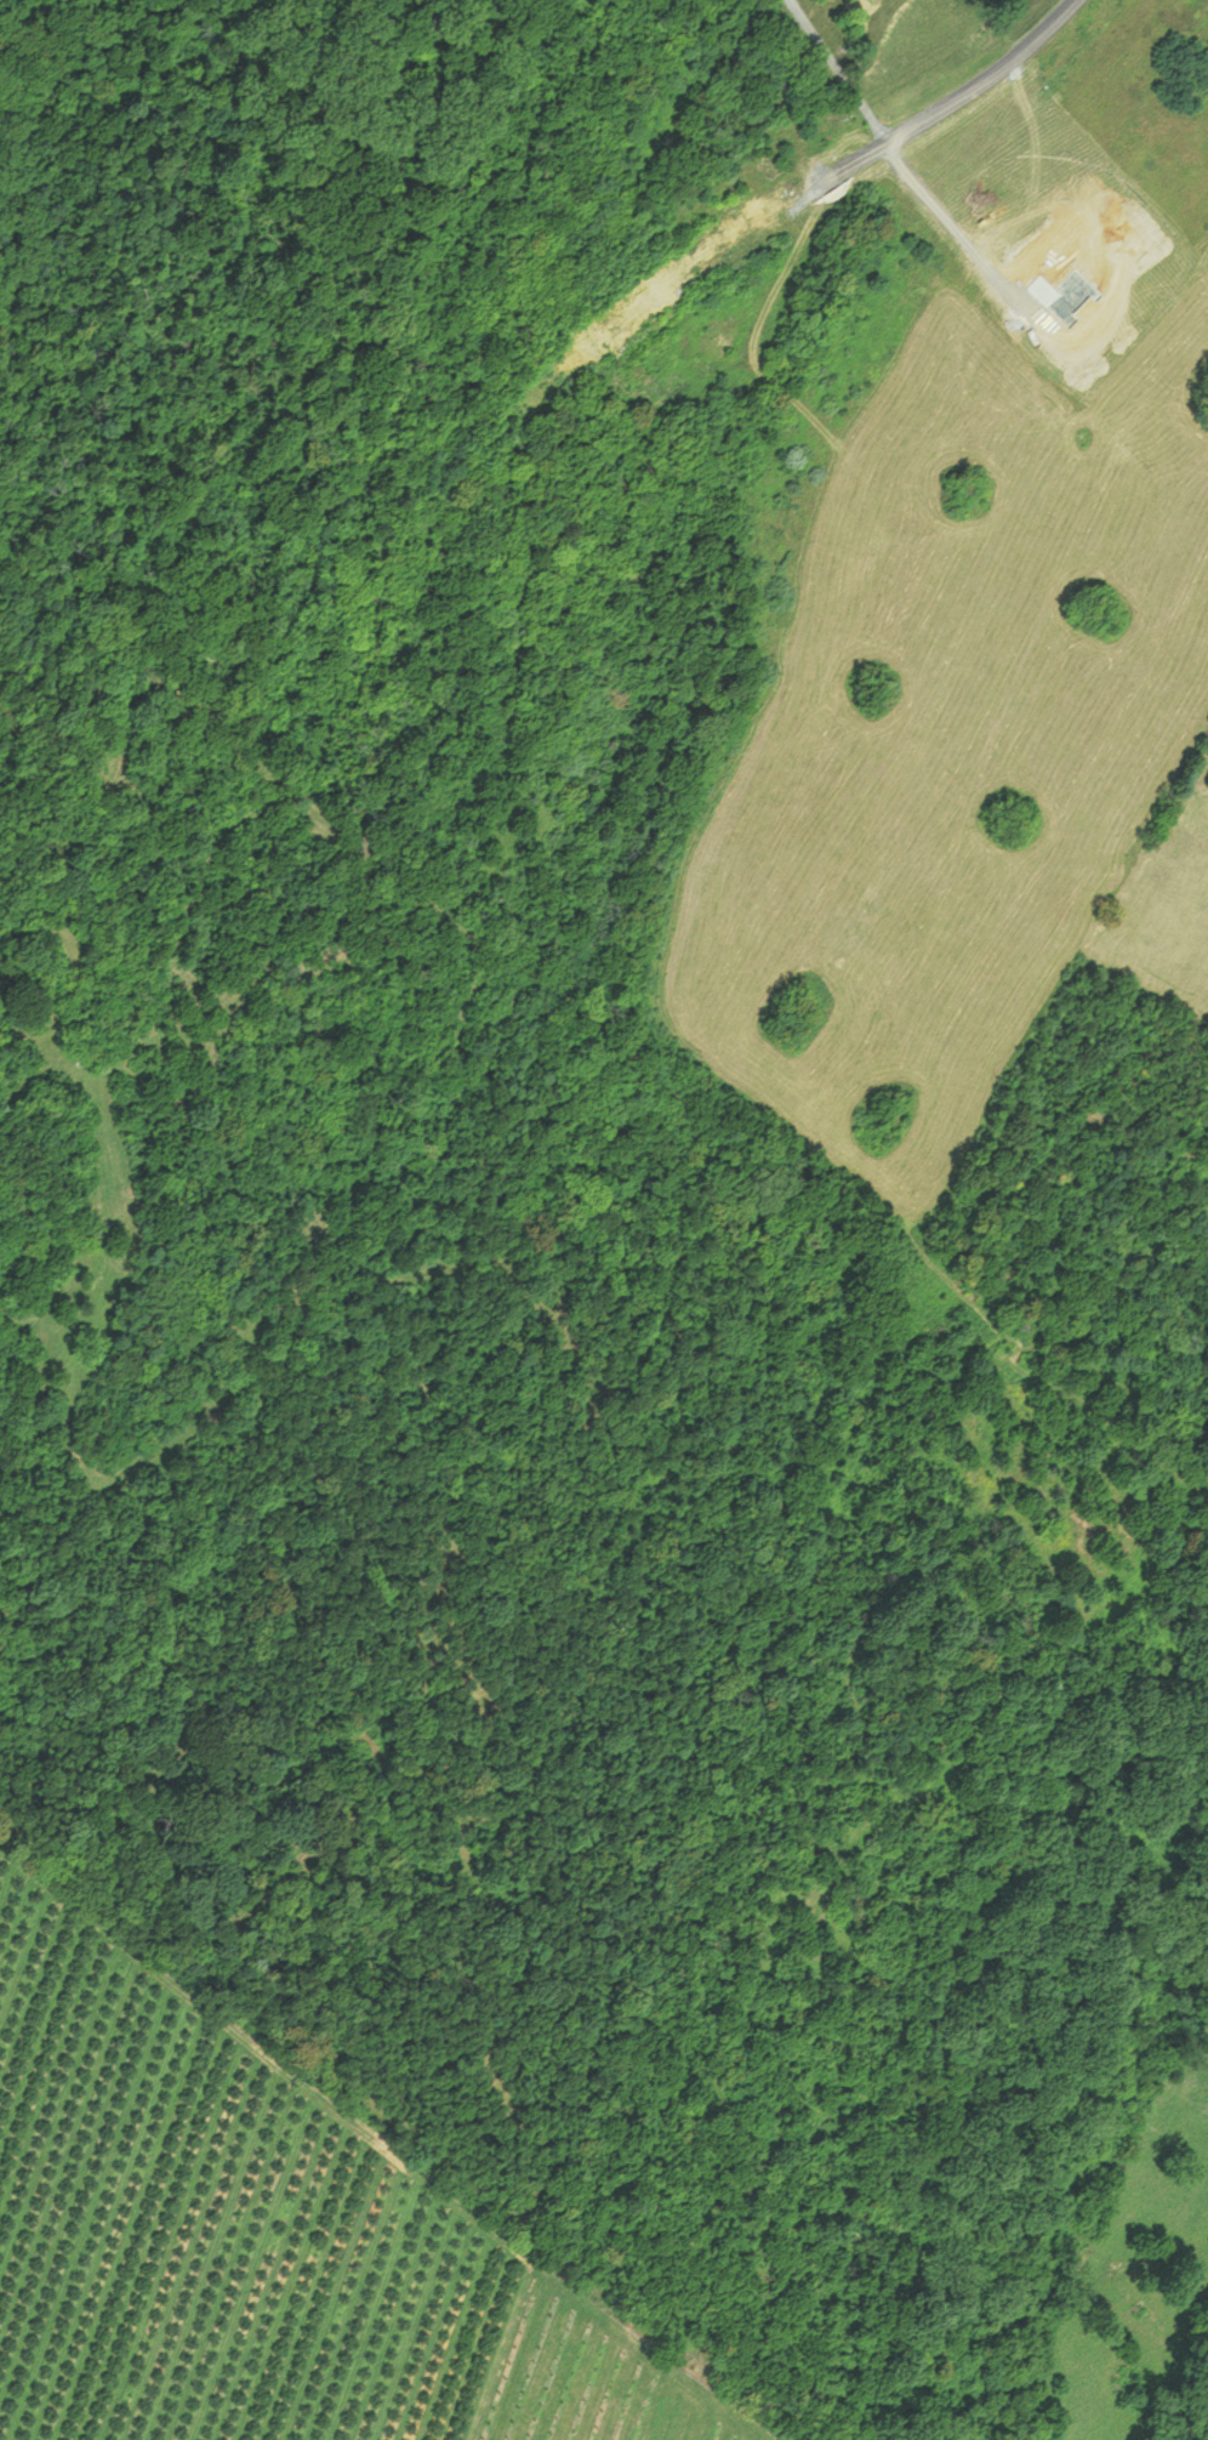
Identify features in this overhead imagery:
road: (838, 69)
road: (951, 99)

